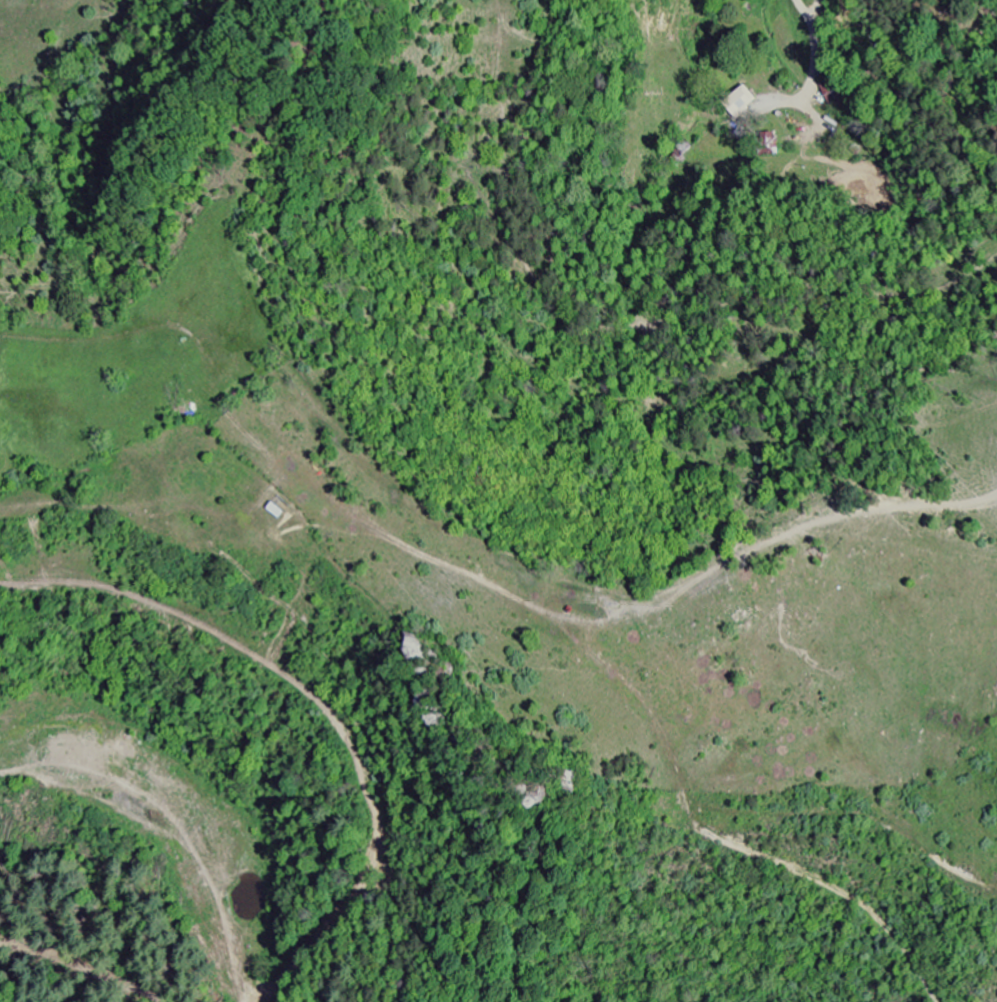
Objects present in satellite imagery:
road: (814, 50)
building: (743, 101)
building: (279, 511)

